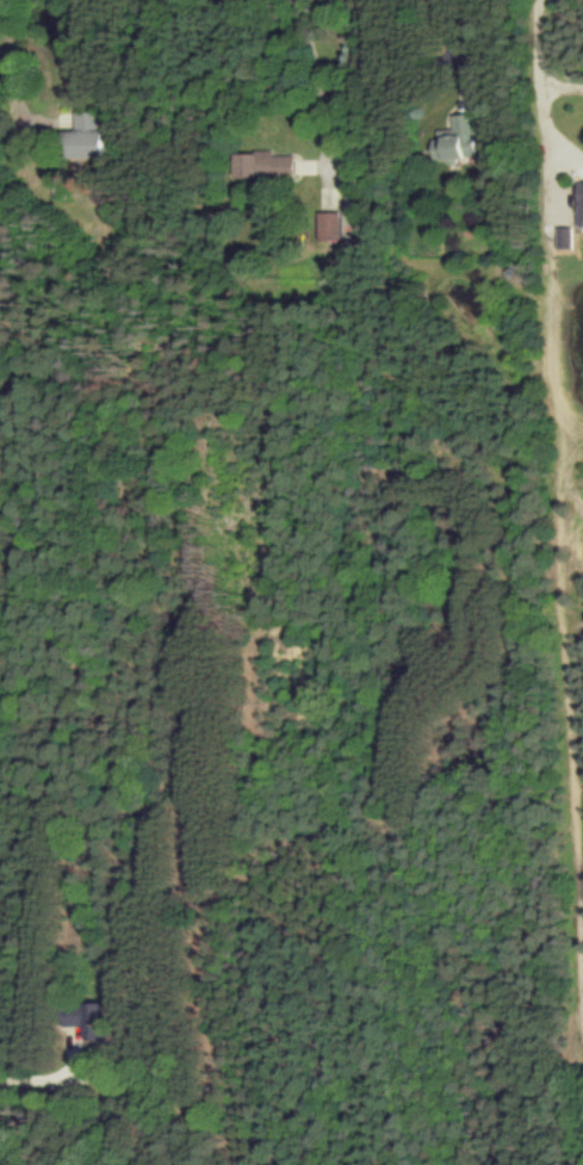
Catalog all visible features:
road: (4, 68)
road: (311, 76)
road: (538, 88)
building: (81, 136)
building: (455, 137)
building: (261, 165)
building: (578, 200)
building: (325, 225)
building: (560, 237)
building: (85, 1018)
road: (26, 1068)

